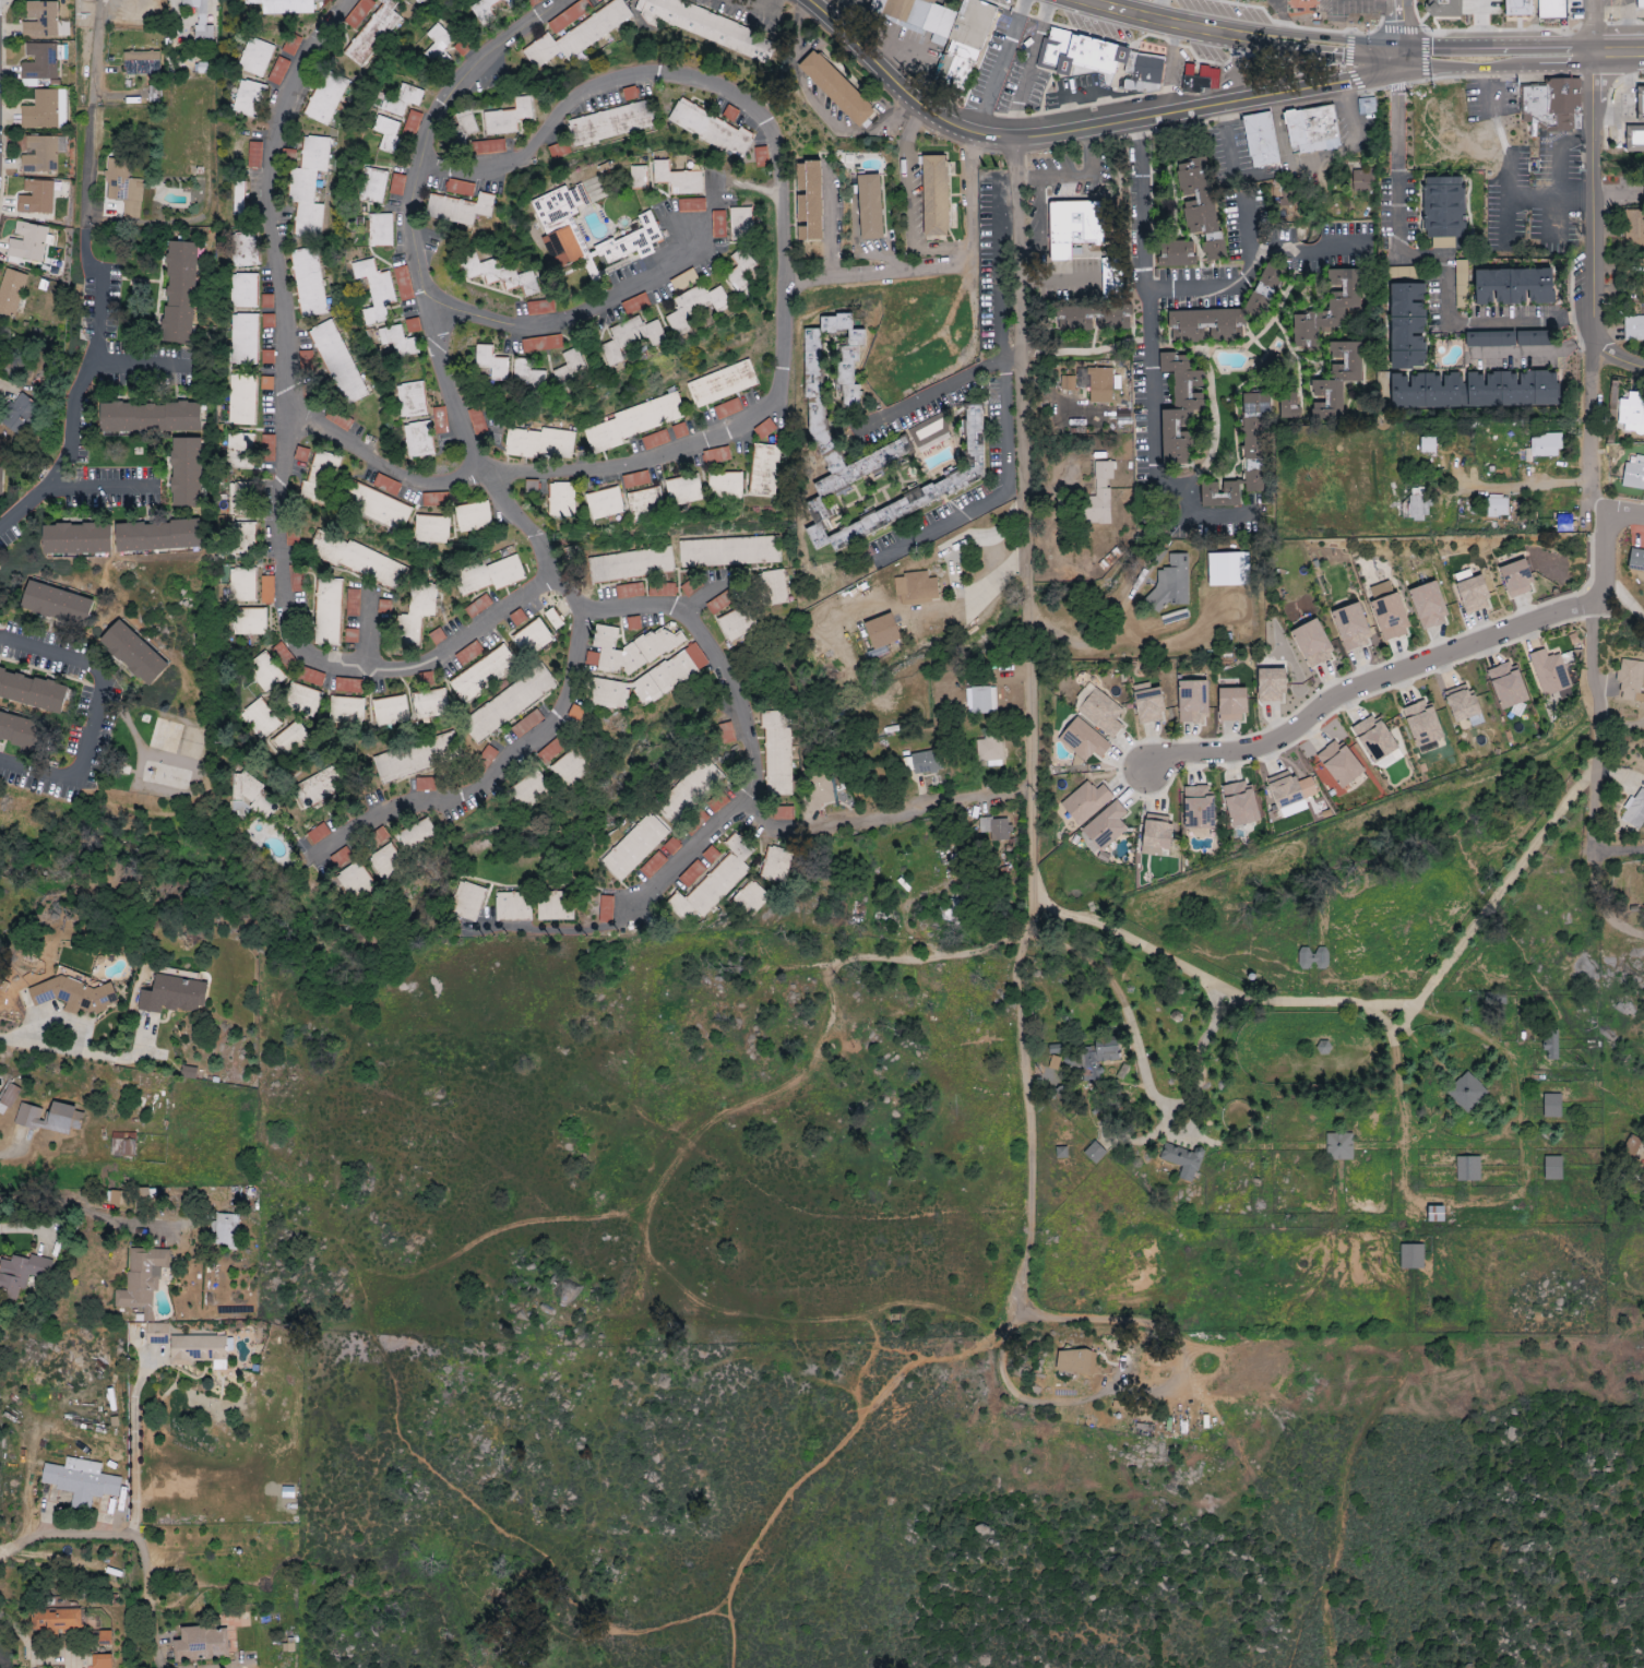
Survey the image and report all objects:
building: (418, 1)
building: (1641, 4)
building: (283, 7)
building: (1443, 8)
building: (490, 9)
building: (1520, 9)
building: (1551, 9)
building: (1573, 10)
road: (1155, 11)
building: (569, 15)
building: (919, 16)
building: (200, 20)
building: (43, 21)
road: (1615, 24)
building: (705, 26)
road: (1404, 27)
road: (1479, 28)
road: (1592, 28)
street lamp: (1368, 29)
building: (372, 33)
street lamp: (1431, 33)
building: (576, 35)
road: (1622, 40)
building: (966, 41)
road: (1235, 41)
building: (438, 45)
road: (862, 51)
road: (97, 53)
traffic signals: (1401, 56)
building: (255, 57)
road: (1522, 57)
building: (1098, 58)
building: (39, 61)
building: (140, 62)
road: (998, 67)
road: (1028, 68)
building: (278, 71)
road: (663, 74)
building: (1198, 78)
street lamp: (1642, 79)
street lamp: (1433, 84)
building: (836, 87)
road: (1082, 95)
building: (325, 97)
building: (248, 98)
street lamp: (1385, 98)
building: (402, 99)
building: (1641, 100)
building: (1367, 105)
building: (44, 110)
road: (1190, 110)
building: (508, 117)
road: (1618, 117)
road: (944, 121)
building: (610, 124)
building: (711, 129)
building: (1313, 129)
building: (388, 134)
street lamp: (1155, 134)
building: (1634, 139)
road: (1229, 140)
building: (1261, 140)
building: (488, 146)
building: (254, 153)
building: (38, 155)
road: (1319, 158)
road: (1509, 164)
road: (88, 168)
building: (639, 177)
road: (1075, 177)
building: (678, 178)
building: (1363, 181)
building: (396, 184)
building: (307, 186)
building: (372, 186)
building: (122, 190)
building: (936, 195)
building: (35, 196)
building: (1195, 196)
building: (238, 198)
building: (809, 200)
road: (1617, 200)
road: (1591, 203)
building: (691, 204)
building: (870, 206)
building: (458, 208)
building: (1443, 211)
building: (559, 222)
road: (1040, 222)
building: (741, 223)
road: (831, 223)
building: (718, 224)
building: (1074, 226)
building: (1633, 228)
building: (380, 229)
building: (26, 242)
road: (926, 248)
building: (245, 249)
road: (1302, 249)
building: (1178, 253)
road: (1427, 258)
building: (480, 267)
building: (741, 270)
road: (881, 273)
building: (308, 282)
building: (403, 283)
road: (1238, 283)
building: (1461, 284)
building: (1265, 286)
building: (1515, 286)
building: (1643, 289)
building: (11, 290)
building: (243, 290)
building: (374, 290)
building: (179, 293)
road: (425, 293)
road: (1146, 299)
building: (539, 307)
building: (696, 308)
building: (1329, 308)
road: (564, 317)
building: (1088, 318)
building: (1206, 325)
building: (1407, 325)
building: (1633, 327)
building: (632, 337)
building: (243, 338)
building: (1490, 338)
building: (398, 341)
building: (541, 344)
road: (1532, 350)
building: (913, 359)
road: (1616, 359)
building: (337, 362)
building: (491, 362)
road: (133, 367)
building: (570, 368)
building: (526, 374)
building: (1336, 380)
building: (1067, 383)
building: (722, 384)
road: (950, 385)
road: (82, 388)
building: (1513, 389)
building: (1428, 391)
building: (241, 400)
building: (410, 400)
building: (817, 405)
building: (1288, 405)
building: (1181, 409)
building: (16, 413)
building: (1632, 413)
building: (150, 417)
road: (1588, 434)
road: (699, 439)
building: (418, 440)
building: (1254, 440)
building: (539, 444)
building: (1428, 444)
building: (1545, 445)
building: (267, 448)
building: (240, 450)
road: (286, 457)
road: (388, 463)
building: (764, 469)
building: (186, 472)
building: (1634, 474)
building: (320, 478)
building: (0, 480)
building: (725, 486)
road: (1525, 487)
building: (683, 489)
road: (94, 490)
building: (917, 490)
road: (1003, 491)
building: (1220, 495)
building: (1099, 496)
building: (239, 499)
building: (434, 499)
building: (561, 499)
building: (605, 503)
building: (645, 503)
building: (1415, 504)
building: (377, 507)
building: (1497, 507)
building: (473, 516)
road: (1624, 517)
building: (1563, 523)
building: (431, 528)
building: (157, 535)
building: (242, 536)
building: (78, 538)
building: (722, 553)
road: (1604, 557)
building: (357, 559)
building: (1636, 560)
building: (630, 565)
building: (1228, 570)
building: (489, 575)
building: (1516, 579)
building: (1171, 582)
building: (773, 587)
building: (916, 587)
building: (266, 589)
building: (629, 591)
building: (662, 591)
building: (1473, 592)
road: (1622, 599)
building: (352, 603)
building: (56, 604)
building: (1429, 606)
building: (383, 607)
building: (477, 607)
building: (327, 611)
building: (1389, 611)
building: (416, 613)
building: (517, 619)
building: (552, 619)
building: (249, 621)
building: (736, 624)
building: (1351, 628)
building: (882, 632)
building: (350, 635)
building: (532, 638)
building: (1312, 644)
building: (630, 650)
building: (133, 653)
building: (468, 654)
building: (283, 656)
building: (267, 672)
building: (1549, 672)
building: (480, 674)
building: (311, 677)
building: (650, 681)
building: (347, 686)
building: (1272, 686)
building: (1506, 686)
road: (1365, 687)
building: (301, 700)
building: (980, 700)
building: (1192, 702)
building: (508, 703)
building: (1010, 703)
building: (429, 704)
building: (1148, 704)
building: (1232, 705)
building: (1464, 706)
building: (346, 711)
building: (390, 711)
road: (94, 716)
building: (260, 718)
road: (742, 720)
building: (526, 724)
building: (1423, 726)
road: (1600, 726)
building: (21, 730)
road: (1029, 734)
building: (1083, 739)
building: (1375, 739)
building: (290, 740)
building: (989, 750)
building: (776, 754)
building: (416, 756)
building: (486, 758)
building: (929, 763)
building: (1341, 763)
road: (499, 774)
building: (425, 784)
building: (246, 787)
building: (319, 787)
building: (1289, 794)
building: (1086, 801)
building: (1241, 805)
building: (1199, 807)
building: (1634, 810)
building: (783, 813)
road: (882, 817)
building: (1106, 826)
building: (994, 829)
building: (317, 834)
building: (417, 835)
building: (1157, 836)
building: (671, 846)
building: (634, 847)
road: (1622, 854)
building: (711, 855)
building: (385, 861)
building: (775, 865)
building: (692, 874)
building: (720, 877)
building: (355, 882)
building: (751, 897)
building: (467, 902)
road: (1599, 905)
building: (512, 906)
building: (555, 907)
building: (606, 909)
road: (569, 930)
building: (73, 994)
building: (172, 996)
road: (1357, 1005)
building: (1550, 1046)
building: (1098, 1059)
building: (188, 1072)
road: (129, 1079)
building: (1466, 1093)
building: (2, 1106)
building: (1551, 1106)
building: (49, 1118)
building: (122, 1144)
building: (1338, 1147)
building: (1094, 1153)
building: (1182, 1160)
building: (1552, 1168)
building: (1467, 1169)
building: (112, 1196)
road: (85, 1212)
building: (1437, 1214)
road: (23, 1227)
building: (225, 1229)
building: (1411, 1256)
building: (21, 1273)
building: (142, 1278)
building: (196, 1348)
building: (1075, 1360)
road: (133, 1449)
road: (833, 1462)
building: (81, 1480)
road: (74, 1537)
road: (145, 1600)
building: (55, 1620)
building: (201, 1644)
building: (100, 1660)

